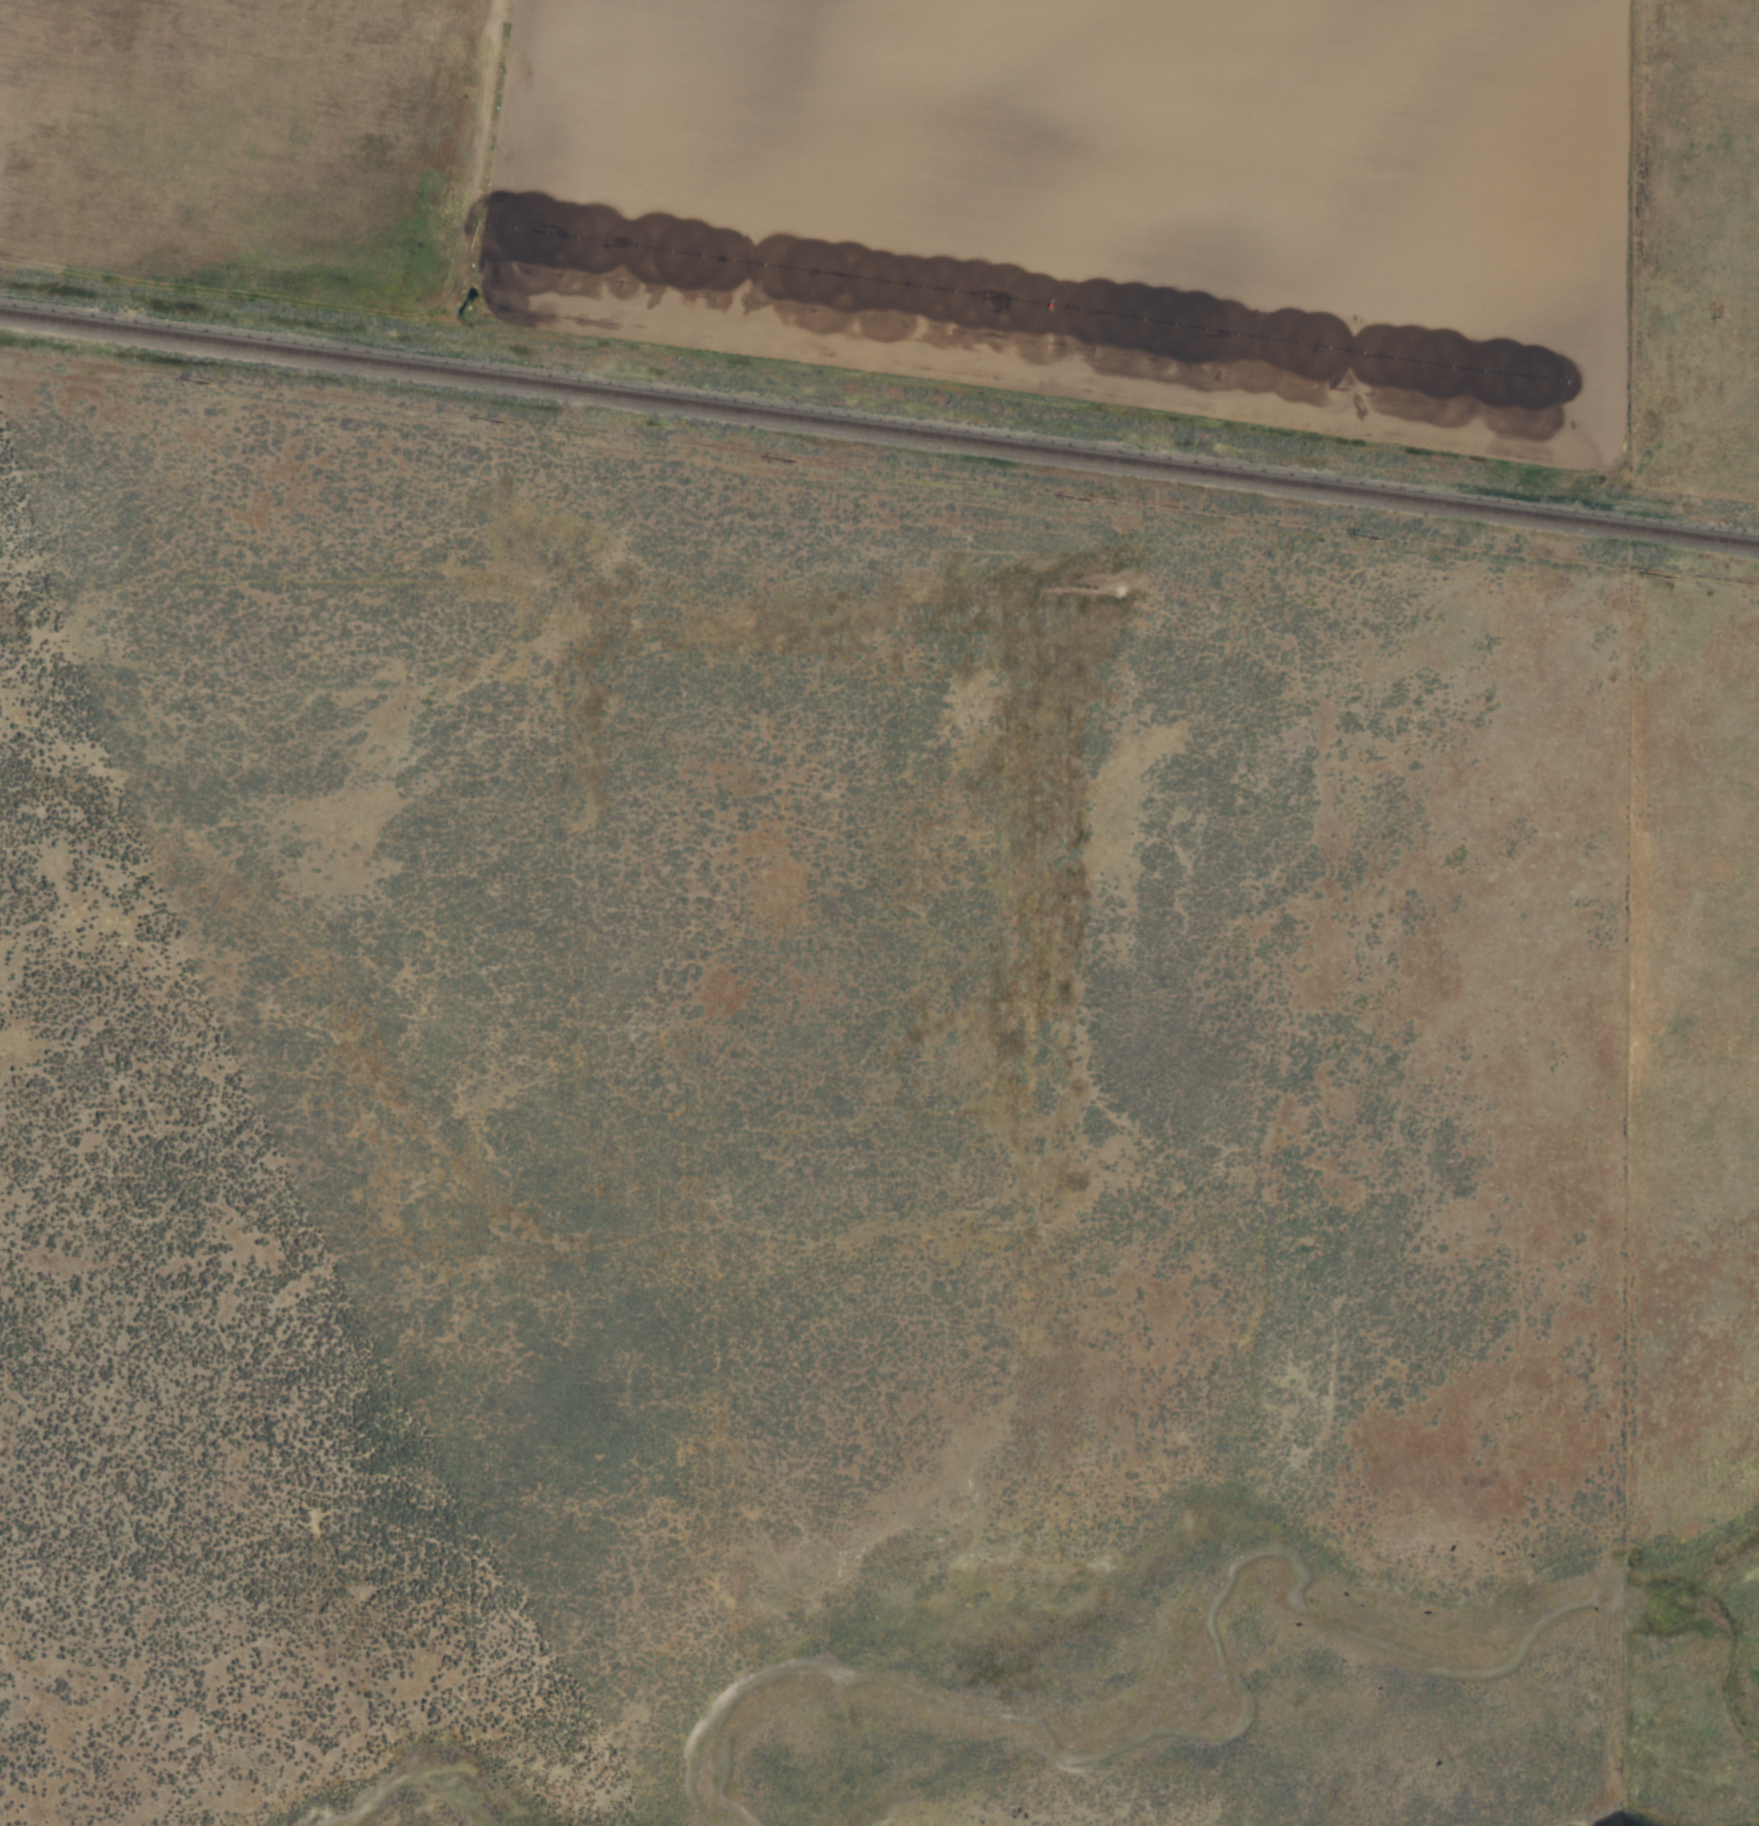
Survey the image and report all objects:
railway: (879, 426)
crop: (881, 1098)

